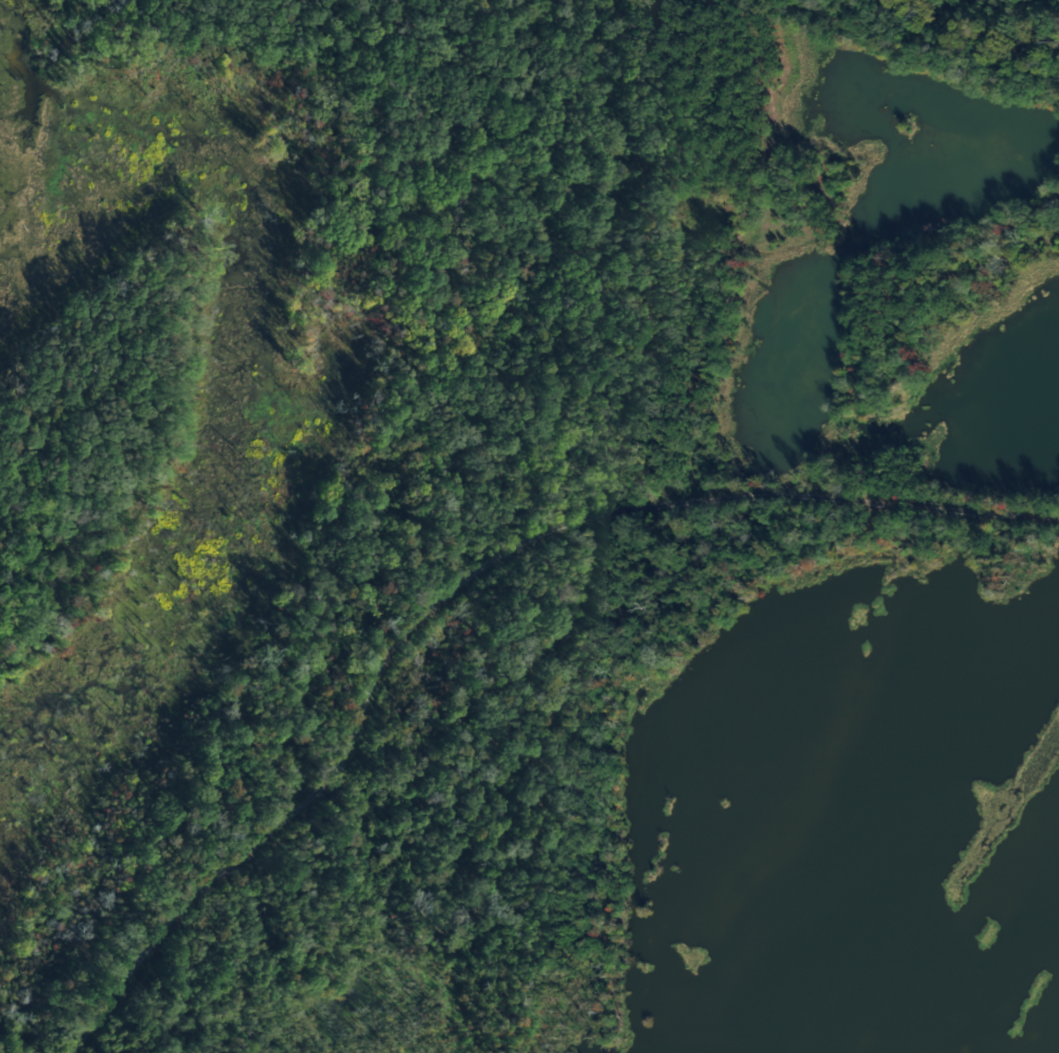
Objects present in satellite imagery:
road: (397, 649)
road: (260, 844)

